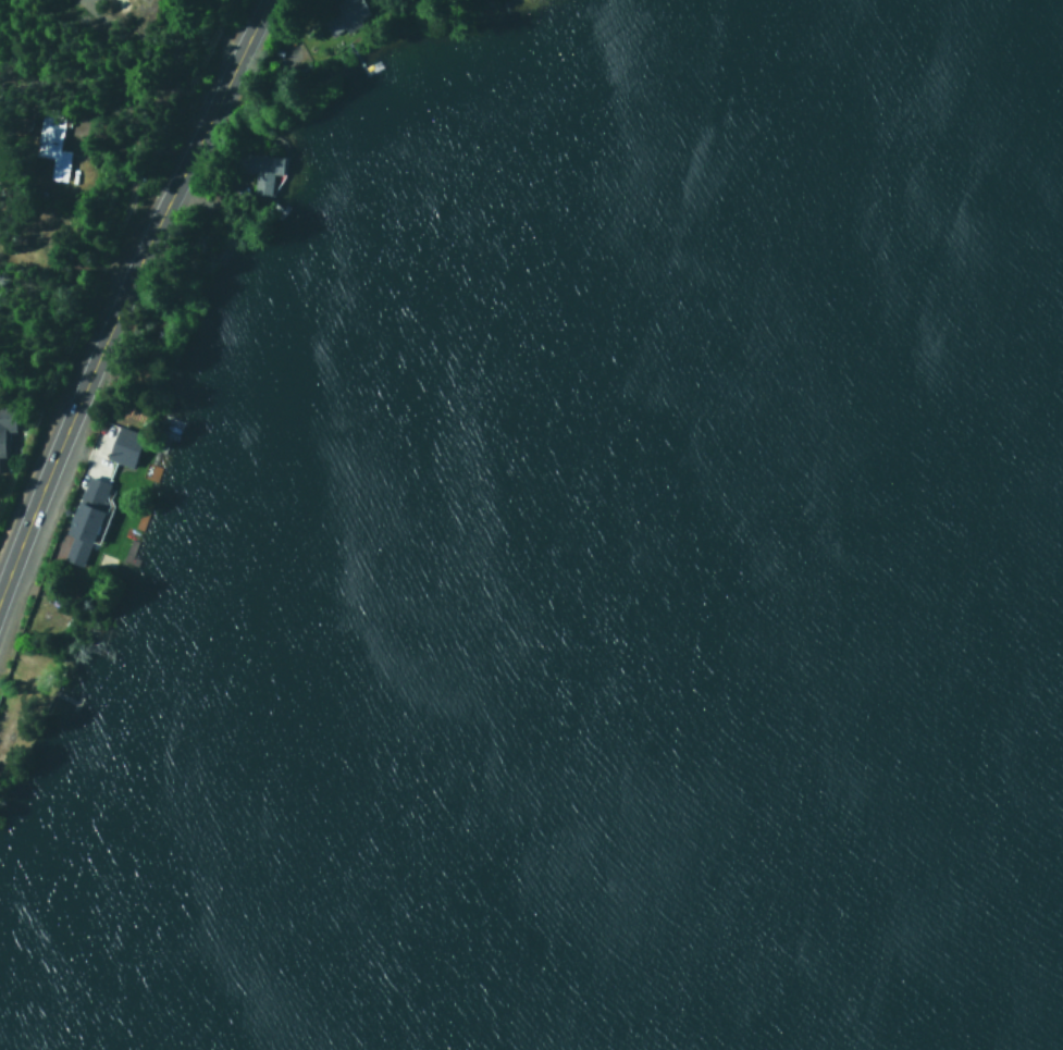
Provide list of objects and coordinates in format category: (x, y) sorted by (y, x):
building: (346, 14)
road: (214, 18)
building: (291, 57)
building: (50, 146)
building: (257, 170)
road: (123, 289)
building: (4, 421)
building: (122, 446)
building: (83, 520)

